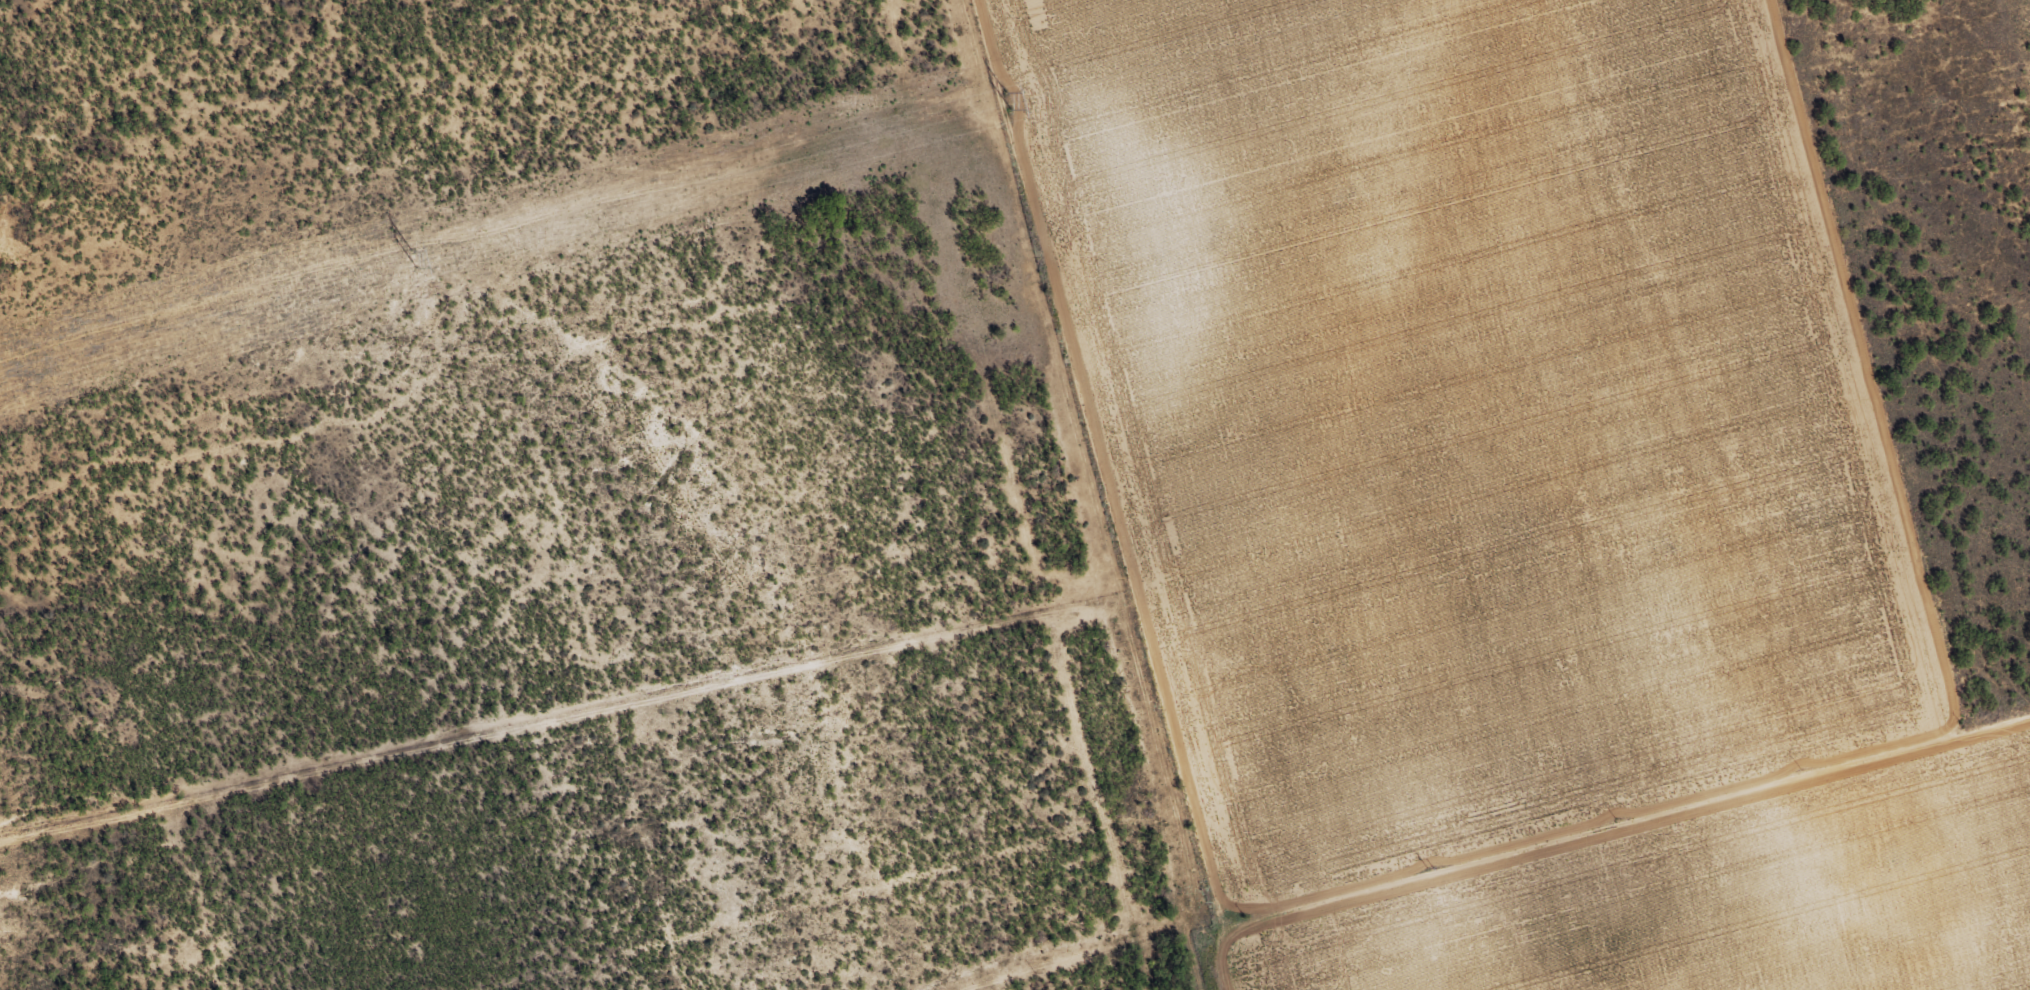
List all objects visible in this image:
power tower: (1005, 100)
power tower: (413, 258)
road: (1648, 812)

